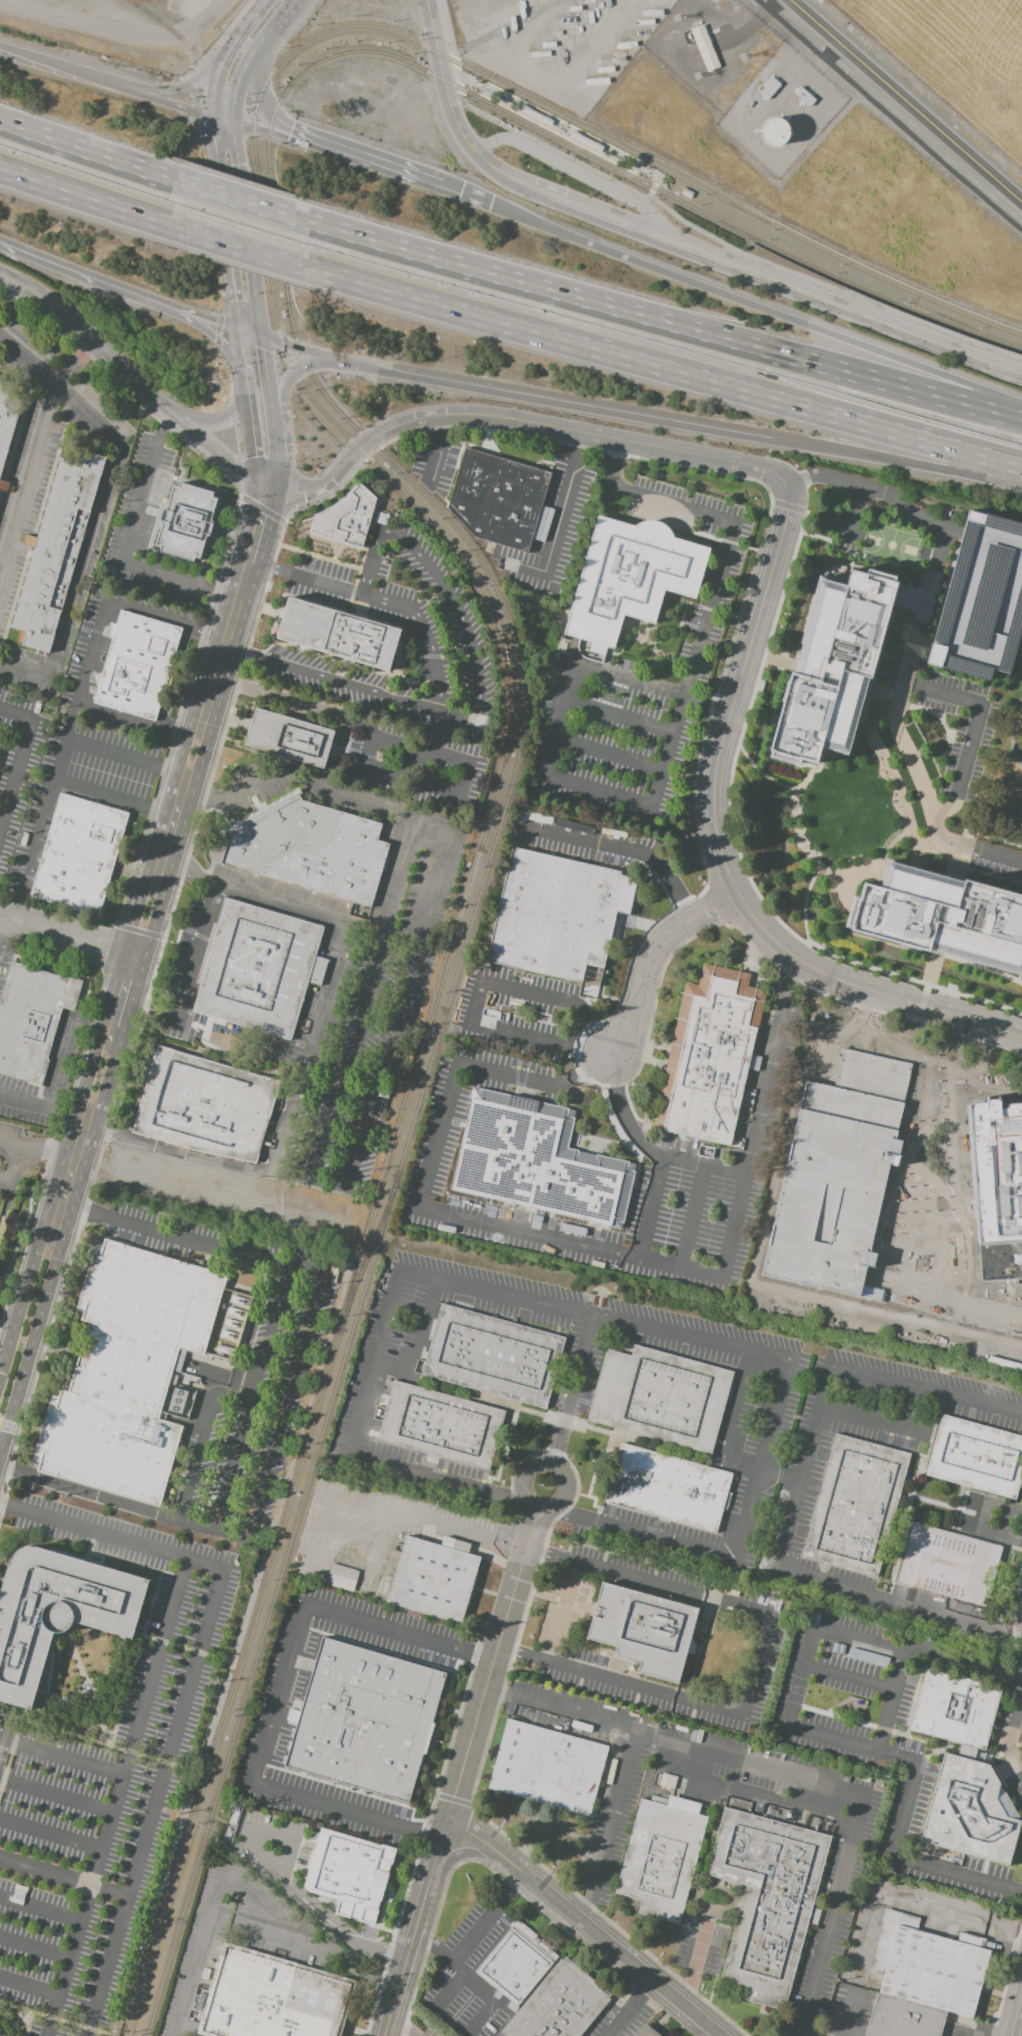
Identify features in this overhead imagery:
road: (506, 26)
road: (119, 33)
building: (703, 49)
road: (451, 51)
road: (3, 52)
road: (227, 53)
road: (249, 56)
airport: (956, 56)
road: (64, 71)
railway: (209, 73)
road: (470, 82)
road: (185, 87)
road: (260, 90)
road: (905, 102)
road: (166, 103)
building: (534, 116)
traffic signals: (210, 117)
road: (220, 120)
road: (453, 121)
traffic signals: (230, 123)
road: (258, 129)
building: (774, 131)
storage tank: (774, 131)
building: (585, 141)
road: (88, 152)
railway: (640, 161)
road: (375, 165)
road: (570, 172)
road: (656, 183)
road: (92, 200)
road: (236, 200)
railway: (726, 200)
road: (596, 215)
road: (224, 225)
railway: (727, 225)
road: (246, 231)
road: (247, 250)
road: (733, 250)
road: (615, 255)
road: (712, 259)
road: (81, 276)
road: (526, 283)
road: (200, 319)
road: (900, 332)
traffic signals: (238, 333)
road: (86, 335)
road: (209, 336)
road: (249, 336)
traffic signals: (261, 340)
road: (304, 351)
road: (29, 359)
road: (897, 360)
road: (664, 369)
road: (292, 377)
road: (890, 384)
road: (269, 386)
road: (544, 399)
road: (249, 413)
building: (7, 417)
road: (520, 421)
road: (217, 424)
road: (756, 437)
traffic signals: (771, 440)
road: (440, 449)
road: (215, 450)
road: (36, 459)
road: (896, 461)
road: (277, 463)
building: (3, 485)
road: (870, 489)
traffic signals: (267, 492)
building: (497, 499)
road: (788, 507)
road: (856, 509)
building: (348, 519)
building: (185, 522)
parking lot: (846, 525)
road: (557, 526)
road: (258, 528)
road: (954, 530)
park: (891, 543)
road: (92, 545)
road: (129, 545)
building: (56, 548)
building: (630, 578)
road: (906, 593)
building: (980, 602)
parking lot: (980, 602)
road: (380, 603)
road: (927, 605)
road: (453, 607)
road: (231, 622)
parking lot: (902, 629)
building: (338, 634)
road: (98, 647)
road: (905, 648)
road: (884, 657)
road: (778, 662)
building: (833, 662)
building: (137, 666)
parking lot: (892, 667)
road: (880, 672)
road: (326, 681)
road: (707, 703)
road: (916, 708)
road: (621, 718)
road: (977, 726)
parking lot: (962, 731)
road: (1012, 736)
building: (290, 740)
road: (852, 741)
road: (670, 744)
road: (473, 747)
road: (907, 747)
road: (416, 751)
road: (610, 755)
road: (19, 758)
road: (61, 767)
road: (762, 773)
park: (1002, 773)
road: (289, 785)
road: (121, 798)
road: (455, 814)
road: (905, 817)
road: (795, 818)
road: (184, 819)
road: (698, 838)
road: (968, 845)
road: (623, 848)
road: (736, 848)
road: (931, 850)
building: (310, 851)
road: (722, 851)
road: (965, 852)
building: (79, 855)
road: (914, 859)
parking lot: (995, 869)
road: (929, 879)
road: (990, 885)
road: (315, 914)
building: (556, 914)
road: (805, 917)
building: (944, 917)
road: (0, 919)
road: (181, 929)
road: (71, 938)
railway: (456, 941)
road: (936, 953)
railway: (464, 954)
road: (976, 957)
road: (651, 959)
building: (258, 968)
road: (931, 971)
road: (183, 980)
road: (537, 995)
road: (130, 1001)
road: (921, 1006)
building: (31, 1019)
road: (101, 1023)
road: (188, 1025)
road: (233, 1028)
road: (66, 1032)
road: (595, 1032)
road: (904, 1035)
road: (548, 1039)
building: (709, 1057)
road: (857, 1065)
road: (346, 1066)
road: (768, 1068)
road: (304, 1073)
building: (205, 1105)
road: (47, 1107)
road: (623, 1114)
building: (964, 1131)
road: (285, 1134)
road: (41, 1153)
road: (187, 1156)
building: (536, 1161)
road: (13, 1170)
road: (305, 1179)
park: (464, 1218)
road: (815, 1220)
road: (733, 1228)
road: (520, 1232)
road: (59, 1245)
railway: (370, 1252)
building: (945, 1262)
building: (0, 1263)
road: (334, 1278)
road: (811, 1305)
road: (582, 1314)
road: (691, 1339)
road: (416, 1340)
building: (492, 1355)
road: (374, 1365)
building: (136, 1369)
road: (926, 1394)
road: (289, 1396)
building: (660, 1397)
road: (251, 1399)
road: (736, 1414)
building: (441, 1425)
road: (894, 1427)
building: (976, 1457)
road: (763, 1462)
road: (780, 1478)
road: (447, 1481)
building: (667, 1488)
building: (855, 1505)
road: (429, 1518)
road: (972, 1518)
road: (633, 1533)
road: (93, 1534)
road: (254, 1546)
road: (506, 1550)
building: (949, 1564)
road: (800, 1576)
building: (342, 1577)
building: (435, 1578)
road: (493, 1593)
road: (555, 1598)
building: (56, 1612)
road: (562, 1613)
road: (243, 1616)
road: (704, 1619)
road: (1017, 1620)
building: (644, 1629)
road: (699, 1650)
road: (196, 1653)
road: (497, 1654)
road: (762, 1669)
road: (848, 1677)
fountain: (87, 1688)
road: (79, 1691)
road: (89, 1695)
road: (278, 1695)
road: (890, 1701)
building: (955, 1708)
road: (461, 1713)
building: (366, 1721)
road: (1014, 1727)
road: (53, 1730)
road: (809, 1731)
road: (433, 1742)
road: (9, 1755)
road: (61, 1758)
road: (162, 1762)
building: (547, 1767)
road: (796, 1776)
road: (441, 1778)
building: (665, 1780)
parking lot: (104, 1785)
road: (159, 1787)
road: (56, 1797)
road: (762, 1798)
road: (117, 1799)
building: (970, 1812)
road: (609, 1826)
road: (568, 1834)
road: (51, 1836)
road: (528, 1836)
building: (662, 1857)
building: (348, 1873)
road: (271, 1874)
road: (64, 1878)
road: (240, 1887)
fountain: (384, 1897)
building: (767, 1899)
road: (919, 1899)
road: (41, 1908)
road: (603, 1919)
road: (583, 1927)
road: (416, 1929)
road: (432, 1931)
road: (35, 1950)
road: (456, 1959)
road: (697, 1959)
building: (517, 1962)
building: (928, 1965)
road: (1006, 1978)
road: (30, 1987)
road: (449, 1992)
building: (272, 1999)
building: (559, 2004)
road: (631, 2009)
road: (849, 2014)
road: (1016, 2014)
building: (902, 2018)
road: (55, 2020)
road: (398, 2031)
building: (646, 2032)
road: (986, 2032)
road: (709, 2033)

